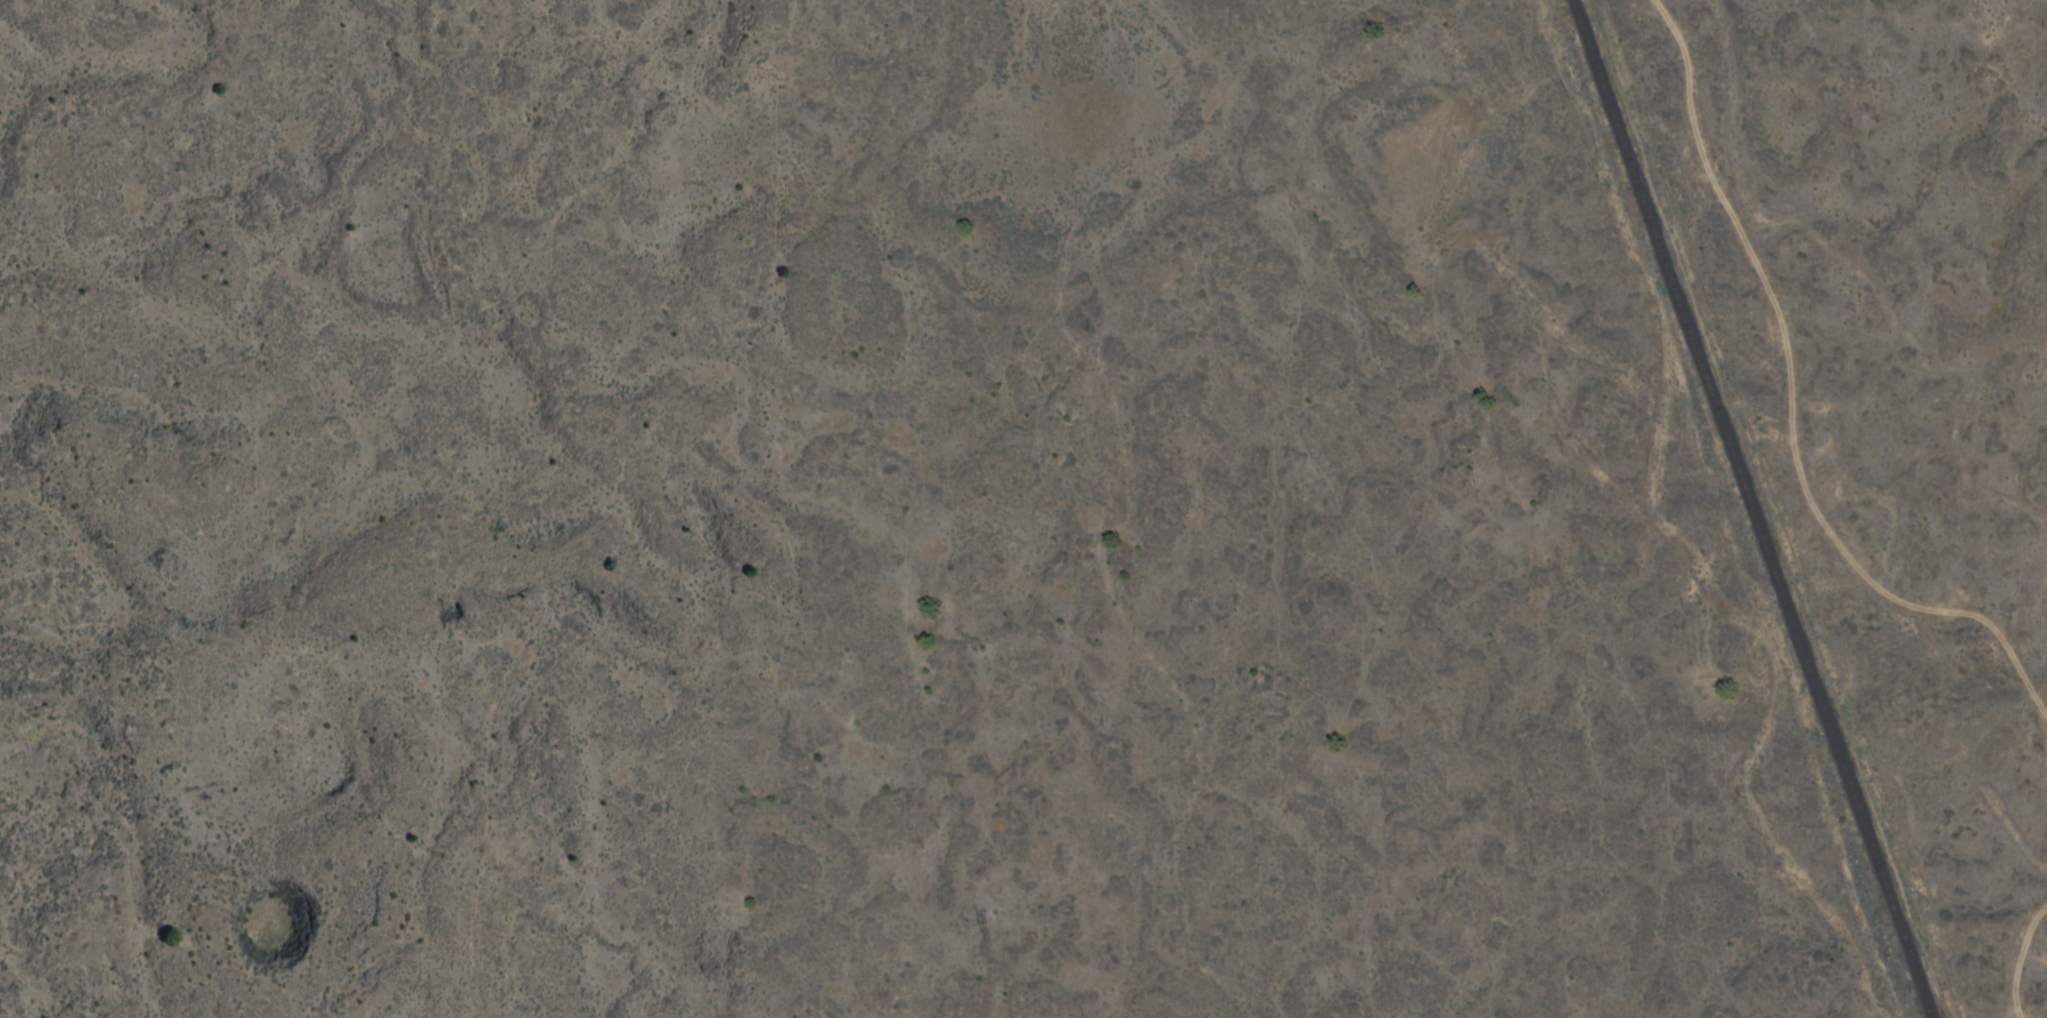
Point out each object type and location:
road: (1797, 395)
railway: (1749, 509)

